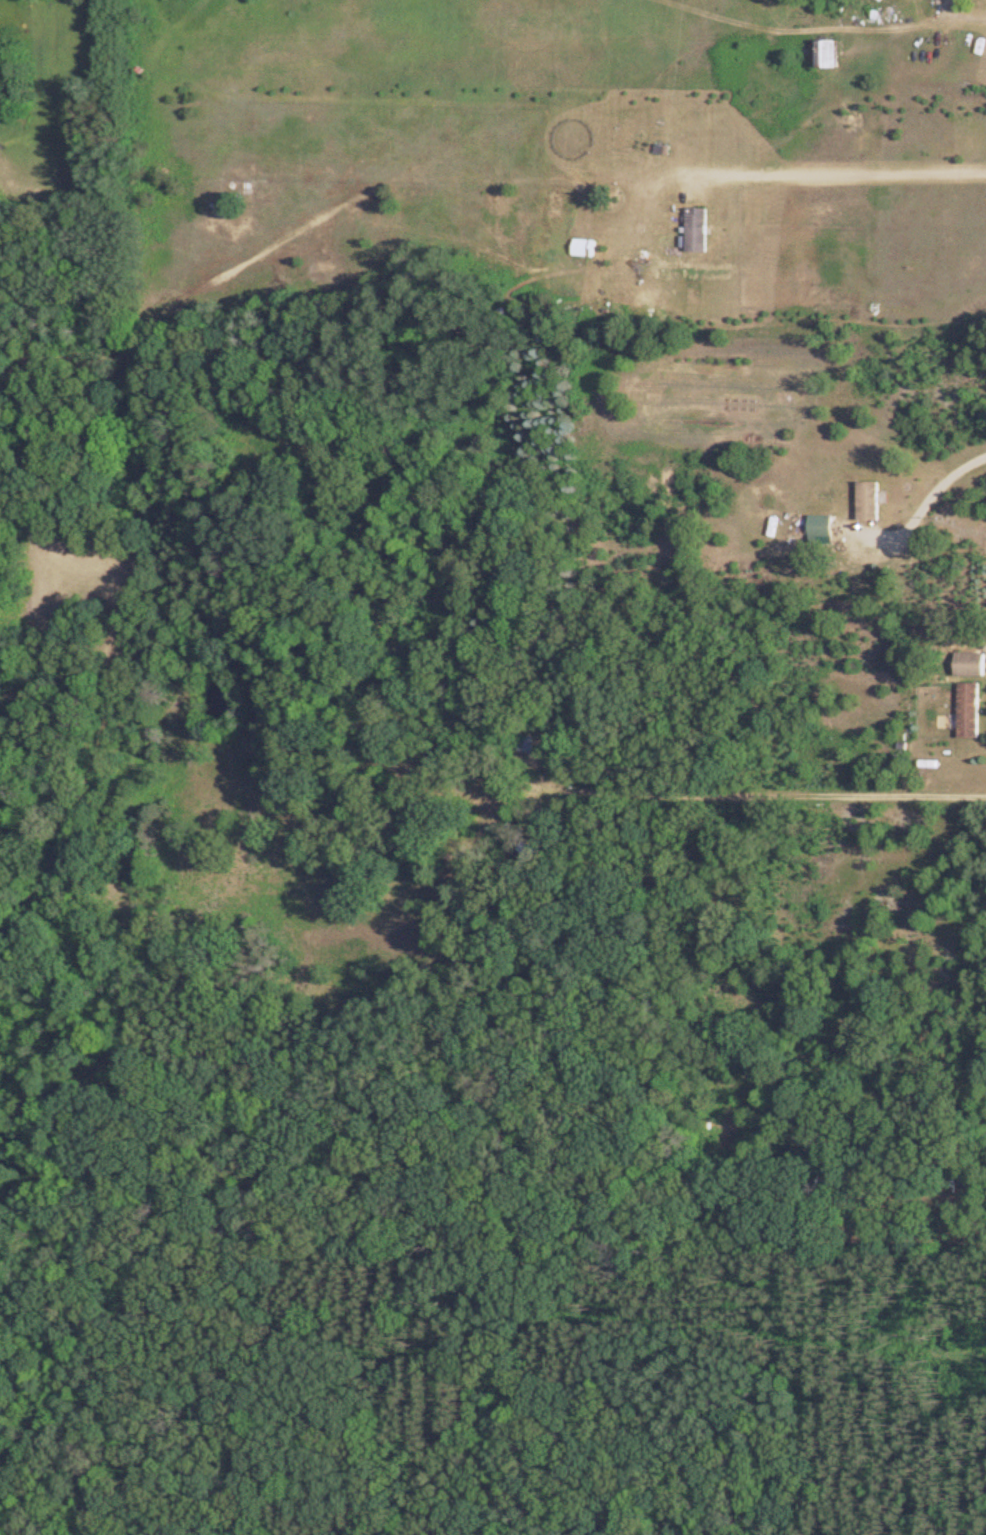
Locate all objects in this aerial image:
building: (821, 53)
building: (695, 230)
building: (582, 248)
building: (865, 501)
building: (966, 665)
building: (965, 711)

